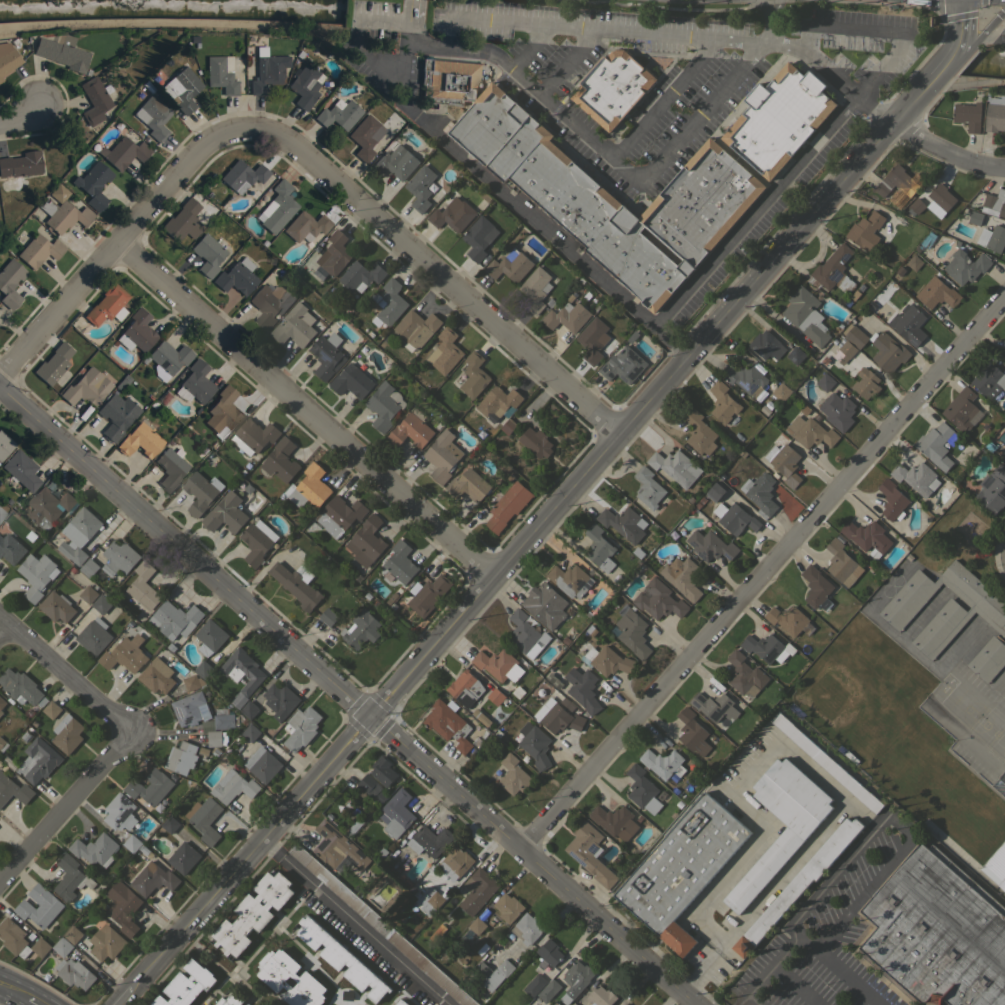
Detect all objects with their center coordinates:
road: (961, 11)
road: (574, 26)
building: (1003, 31)
road: (764, 32)
building: (1004, 34)
road: (532, 48)
building: (61, 52)
building: (7, 57)
road: (814, 57)
road: (945, 60)
road: (570, 62)
building: (266, 73)
building: (220, 74)
building: (0, 79)
building: (305, 86)
building: (613, 87)
building: (182, 89)
building: (95, 99)
road: (875, 108)
building: (995, 113)
building: (338, 114)
road: (19, 115)
building: (968, 115)
building: (153, 116)
road: (835, 117)
building: (779, 119)
road: (691, 125)
building: (365, 136)
road: (597, 145)
building: (123, 152)
road: (946, 154)
building: (395, 163)
building: (21, 164)
building: (242, 175)
building: (895, 181)
building: (93, 184)
building: (597, 186)
building: (420, 187)
road: (507, 195)
building: (942, 196)
building: (996, 201)
building: (917, 205)
building: (278, 207)
building: (62, 211)
building: (453, 214)
building: (976, 218)
building: (183, 220)
building: (305, 226)
building: (866, 230)
building: (478, 237)
building: (992, 237)
road: (115, 245)
building: (38, 250)
building: (334, 253)
building: (207, 254)
rooftop solar panel: (844, 258)
building: (914, 262)
building: (510, 265)
building: (965, 266)
building: (833, 270)
road: (437, 271)
building: (237, 276)
building: (360, 276)
rooftop solar panel: (836, 276)
building: (10, 282)
building: (535, 289)
building: (937, 293)
building: (391, 302)
building: (270, 303)
building: (107, 305)
building: (805, 315)
building: (567, 316)
building: (909, 324)
building: (295, 326)
building: (416, 328)
building: (136, 331)
building: (855, 335)
rooftop solar panel: (769, 337)
building: (593, 340)
building: (765, 344)
rooftop solar panel: (770, 347)
rooftop solar panel: (759, 350)
building: (888, 351)
building: (445, 352)
building: (844, 352)
rooftop solar panel: (324, 354)
building: (327, 355)
building: (795, 355)
building: (168, 358)
building: (53, 363)
building: (623, 365)
building: (474, 375)
building: (745, 378)
building: (988, 380)
building: (825, 381)
building: (352, 382)
building: (195, 383)
building: (866, 383)
building: (86, 387)
building: (781, 392)
building: (723, 402)
building: (384, 405)
building: (493, 407)
building: (837, 410)
building: (962, 410)
building: (222, 413)
road: (303, 414)
building: (116, 415)
building: (508, 426)
building: (410, 431)
building: (810, 432)
building: (700, 433)
building: (254, 436)
building: (139, 440)
building: (535, 442)
building: (935, 444)
building: (4, 445)
building: (442, 455)
building: (1004, 458)
building: (281, 460)
building: (784, 463)
building: (170, 467)
building: (675, 467)
building: (20, 470)
building: (916, 477)
building: (468, 485)
building: (309, 487)
building: (649, 489)
building: (992, 489)
building: (716, 491)
building: (199, 493)
building: (760, 493)
building: (892, 500)
building: (508, 505)
building: (48, 507)
building: (2, 513)
building: (225, 513)
building: (339, 515)
building: (735, 518)
building: (624, 523)
building: (78, 534)
building: (867, 537)
building: (366, 541)
building: (257, 542)
building: (710, 545)
road: (519, 548)
building: (599, 548)
building: (10, 549)
road: (1004, 552)
building: (637, 553)
road: (1004, 554)
building: (119, 558)
building: (400, 562)
building: (840, 562)
building: (89, 567)
road: (763, 572)
building: (36, 575)
building: (681, 576)
building: (570, 580)
building: (296, 584)
building: (815, 586)
building: (142, 588)
building: (88, 594)
building: (427, 594)
building: (658, 600)
building: (101, 604)
building: (545, 604)
building: (56, 606)
building: (944, 606)
building: (327, 616)
building: (174, 619)
building: (789, 620)
building: (361, 629)
road: (4, 630)
building: (633, 633)
building: (526, 634)
building: (93, 637)
building: (210, 637)
road: (676, 644)
building: (767, 648)
road: (908, 650)
road: (965, 650)
building: (125, 654)
building: (988, 658)
building: (608, 660)
building: (498, 664)
building: (203, 669)
building: (242, 669)
building: (744, 674)
road: (62, 675)
building: (157, 676)
building: (191, 682)
parking lot: (956, 682)
building: (21, 687)
building: (465, 687)
building: (583, 689)
building: (517, 692)
park: (857, 693)
building: (496, 696)
road: (350, 698)
road: (976, 698)
road: (996, 698)
building: (280, 700)
building: (2, 702)
building: (714, 706)
building: (189, 708)
building: (52, 709)
building: (249, 709)
building: (1, 712)
building: (557, 717)
building: (223, 721)
building: (448, 724)
building: (301, 727)
building: (250, 732)
building: (692, 732)
building: (67, 733)
building: (216, 738)
road: (965, 739)
building: (3, 744)
building: (534, 744)
building: (181, 757)
building: (38, 760)
road: (762, 761)
building: (826, 762)
building: (663, 763)
building: (264, 765)
building: (383, 770)
building: (497, 771)
building: (513, 775)
building: (369, 785)
building: (233, 786)
building: (149, 787)
building: (642, 789)
building: (13, 790)
rooftop solar panel: (124, 800)
road: (62, 808)
building: (120, 812)
building: (396, 813)
road: (862, 813)
rooftop solar panel: (125, 817)
building: (205, 819)
building: (614, 821)
road: (895, 822)
building: (169, 824)
building: (354, 826)
building: (429, 840)
building: (132, 843)
building: (338, 847)
rooftop solar panel: (592, 847)
building: (95, 849)
building: (589, 852)
building: (183, 857)
rooftop solar panel: (576, 858)
building: (455, 863)
building: (768, 863)
building: (996, 865)
building: (682, 868)
building: (71, 878)
building: (153, 878)
building: (799, 883)
building: (478, 890)
building: (428, 896)
building: (39, 906)
building: (123, 907)
building: (508, 907)
building: (254, 912)
road: (353, 923)
building: (380, 925)
building: (477, 925)
building: (527, 928)
building: (938, 932)
building: (437, 933)
building: (72, 934)
building: (20, 940)
parking lot: (822, 940)
building: (106, 942)
road: (582, 942)
building: (62, 946)
building: (548, 953)
building: (342, 958)
road: (774, 965)
road: (841, 970)
building: (481, 972)
building: (75, 973)
building: (498, 975)
building: (578, 975)
building: (274, 976)
building: (187, 985)
building: (534, 985)
road: (797, 985)
road: (14, 987)
rooftop solar panel: (177, 989)
building: (548, 990)
building: (601, 996)
building: (230, 999)
road: (35, 1000)
road: (753, 1000)
building: (401, 1002)
building: (625, 1003)
building: (249, 1004)
building: (574, 1004)

